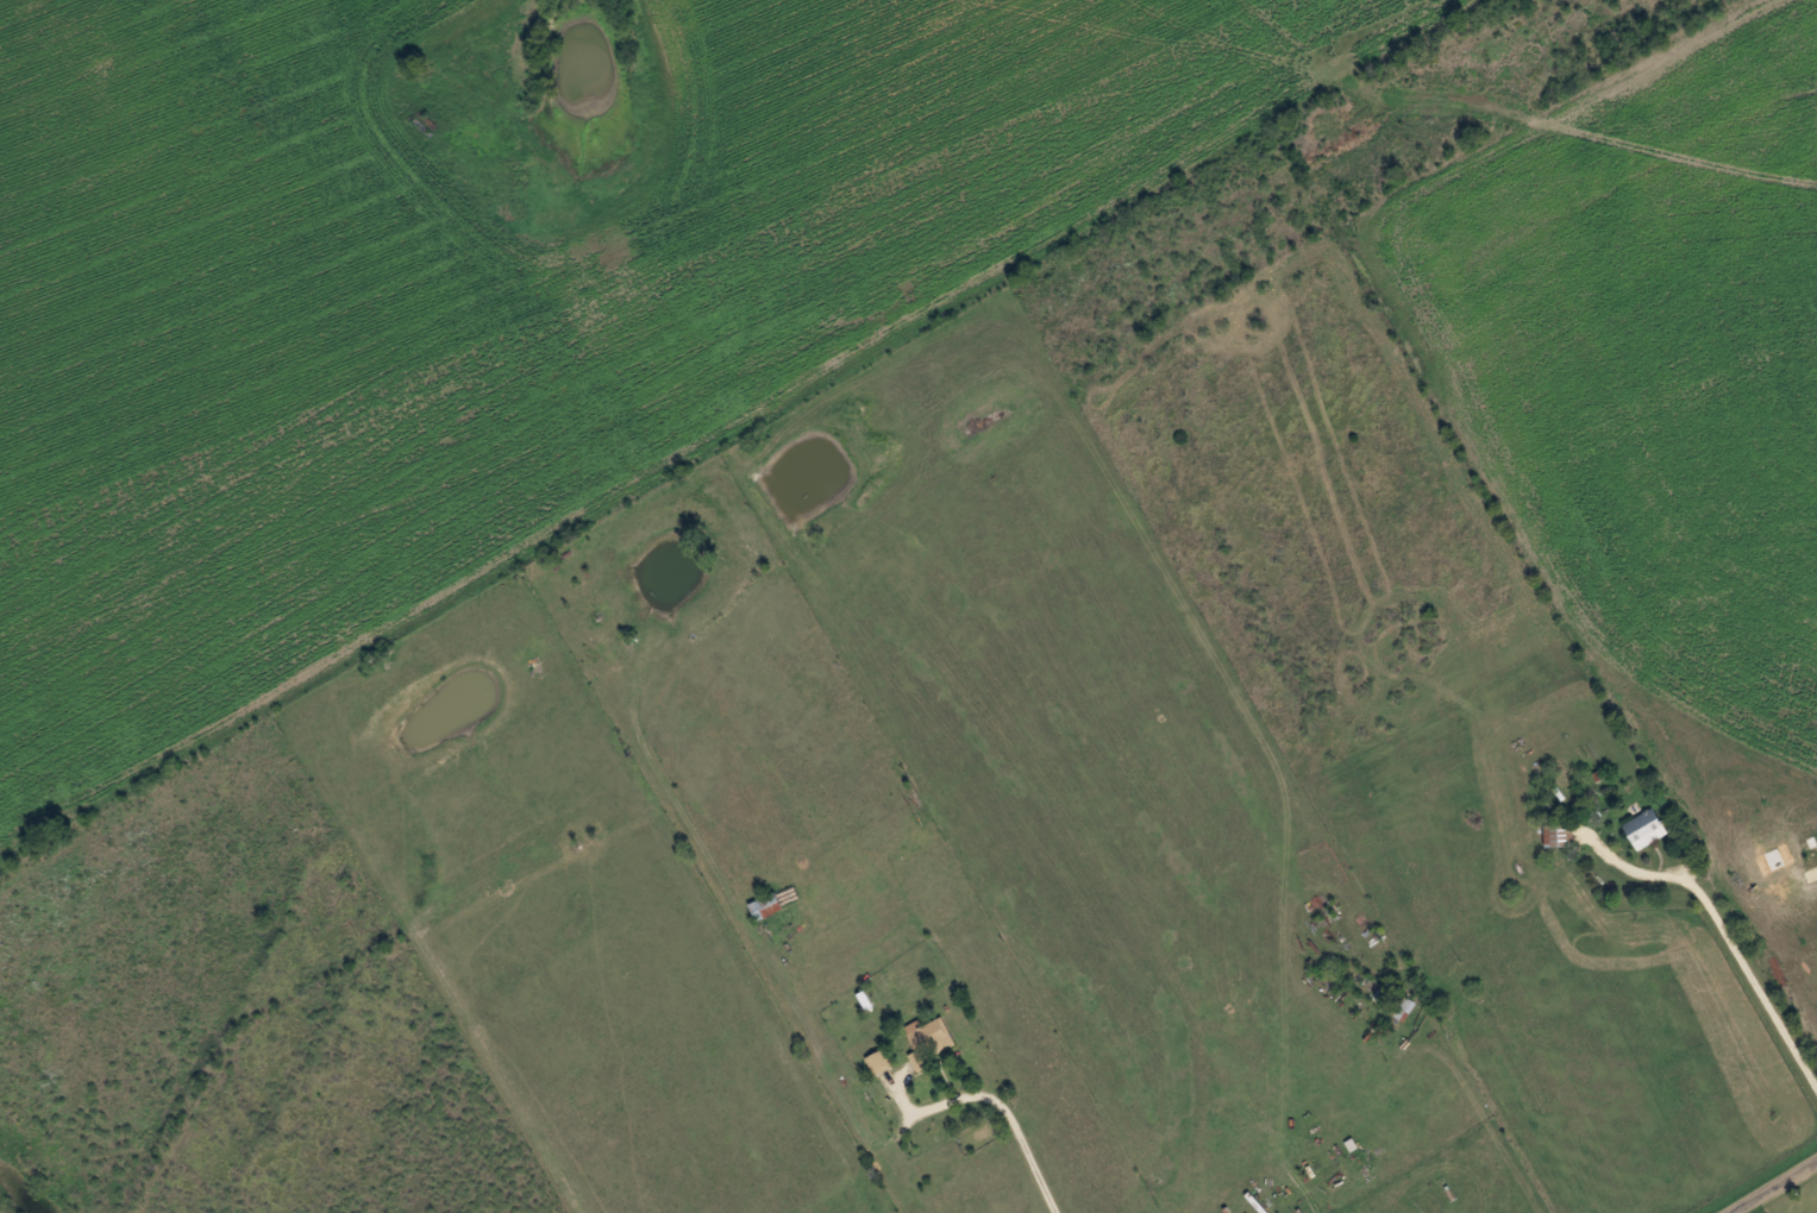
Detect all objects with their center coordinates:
building: (1644, 828)
building: (1559, 834)
building: (766, 904)
building: (1404, 1007)
building: (929, 1039)
road: (1793, 1198)

